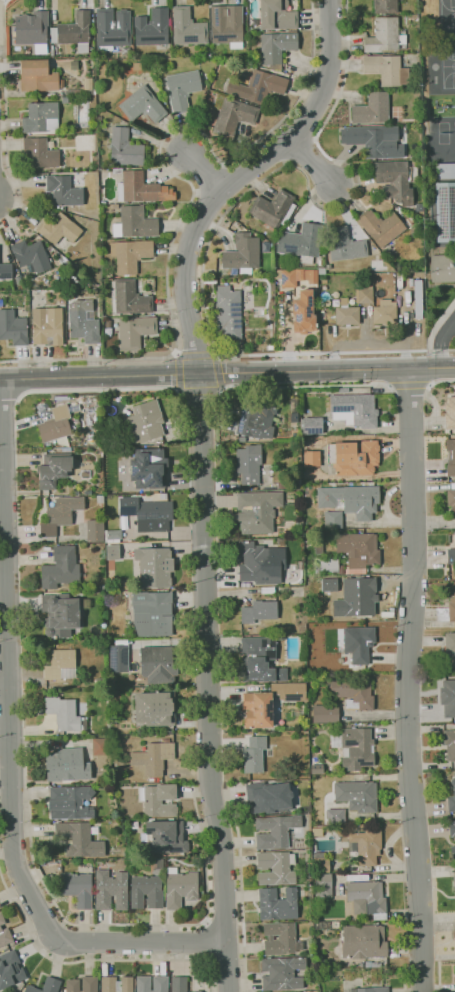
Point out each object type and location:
building: (386, 6)
building: (277, 15)
building: (227, 25)
building: (152, 28)
building: (188, 28)
building: (113, 29)
building: (33, 30)
building: (74, 31)
building: (385, 35)
building: (276, 47)
building: (126, 50)
building: (52, 51)
building: (387, 69)
building: (39, 76)
building: (262, 85)
building: (89, 86)
building: (74, 89)
building: (182, 89)
building: (235, 90)
building: (70, 94)
building: (66, 99)
building: (143, 105)
building: (372, 109)
building: (231, 115)
building: (41, 117)
road: (6, 118)
building: (375, 141)
building: (122, 149)
building: (40, 153)
road: (315, 164)
road: (201, 167)
building: (444, 170)
road: (239, 177)
building: (394, 181)
road: (192, 187)
building: (141, 188)
building: (64, 191)
road: (233, 204)
building: (273, 209)
building: (444, 211)
building: (410, 219)
building: (135, 222)
building: (381, 227)
building: (59, 229)
building: (416, 230)
building: (302, 242)
building: (344, 244)
building: (131, 254)
building: (242, 254)
building: (31, 256)
building: (442, 268)
building: (5, 271)
building: (310, 276)
building: (289, 279)
building: (367, 295)
building: (128, 298)
building: (303, 313)
building: (385, 313)
building: (227, 314)
building: (347, 315)
building: (84, 321)
road: (437, 323)
road: (453, 323)
building: (47, 326)
building: (13, 327)
building: (135, 331)
road: (440, 341)
parking lot: (452, 343)
road: (216, 353)
road: (177, 355)
road: (197, 356)
road: (218, 372)
road: (227, 372)
road: (179, 373)
road: (440, 381)
road: (319, 385)
road: (102, 389)
road: (411, 389)
road: (222, 390)
road: (180, 391)
road: (200, 391)
road: (9, 401)
building: (355, 409)
building: (449, 413)
building: (256, 417)
building: (146, 422)
building: (57, 426)
building: (312, 426)
building: (451, 457)
building: (310, 458)
building: (354, 458)
building: (249, 464)
building: (149, 468)
building: (54, 469)
building: (297, 483)
building: (281, 485)
building: (75, 492)
building: (88, 492)
building: (164, 496)
building: (100, 498)
building: (351, 500)
building: (451, 500)
building: (258, 511)
building: (148, 514)
building: (60, 515)
building: (334, 520)
building: (95, 530)
building: (111, 551)
building: (349, 554)
building: (451, 555)
building: (259, 563)
building: (155, 567)
building: (61, 568)
building: (330, 585)
building: (361, 598)
building: (447, 610)
building: (259, 611)
building: (153, 613)
building: (62, 614)
building: (282, 637)
building: (304, 637)
building: (362, 644)
building: (450, 647)
building: (260, 660)
building: (119, 661)
building: (61, 665)
building: (159, 665)
road: (408, 680)
building: (101, 682)
road: (208, 683)
building: (60, 691)
building: (290, 691)
building: (352, 691)
building: (114, 692)
building: (448, 698)
building: (155, 708)
building: (258, 710)
building: (326, 713)
building: (65, 714)
building: (449, 744)
building: (100, 747)
road: (9, 748)
building: (355, 748)
building: (254, 755)
building: (154, 757)
building: (67, 765)
building: (152, 779)
building: (357, 795)
building: (452, 797)
building: (269, 798)
building: (158, 800)
building: (70, 802)
building: (335, 816)
building: (452, 828)
building: (275, 831)
building: (318, 832)
building: (166, 836)
building: (79, 839)
building: (366, 846)
building: (453, 852)
road: (7, 853)
building: (158, 864)
building: (321, 865)
building: (276, 868)
building: (308, 881)
building: (454, 882)
building: (323, 885)
road: (242, 887)
building: (77, 888)
building: (181, 888)
building: (310, 888)
building: (112, 889)
building: (147, 892)
building: (368, 899)
building: (278, 904)
road: (224, 922)
road: (133, 925)
building: (321, 925)
building: (4, 932)
building: (281, 939)
road: (206, 941)
building: (364, 942)
road: (92, 960)
road: (227, 960)
building: (10, 969)
building: (104, 969)
building: (283, 973)
building: (454, 976)
road: (440, 979)
road: (405, 980)
building: (160, 983)
building: (83, 984)
building: (117, 984)
building: (179, 984)
building: (44, 986)
building: (370, 989)
building: (198, 991)

